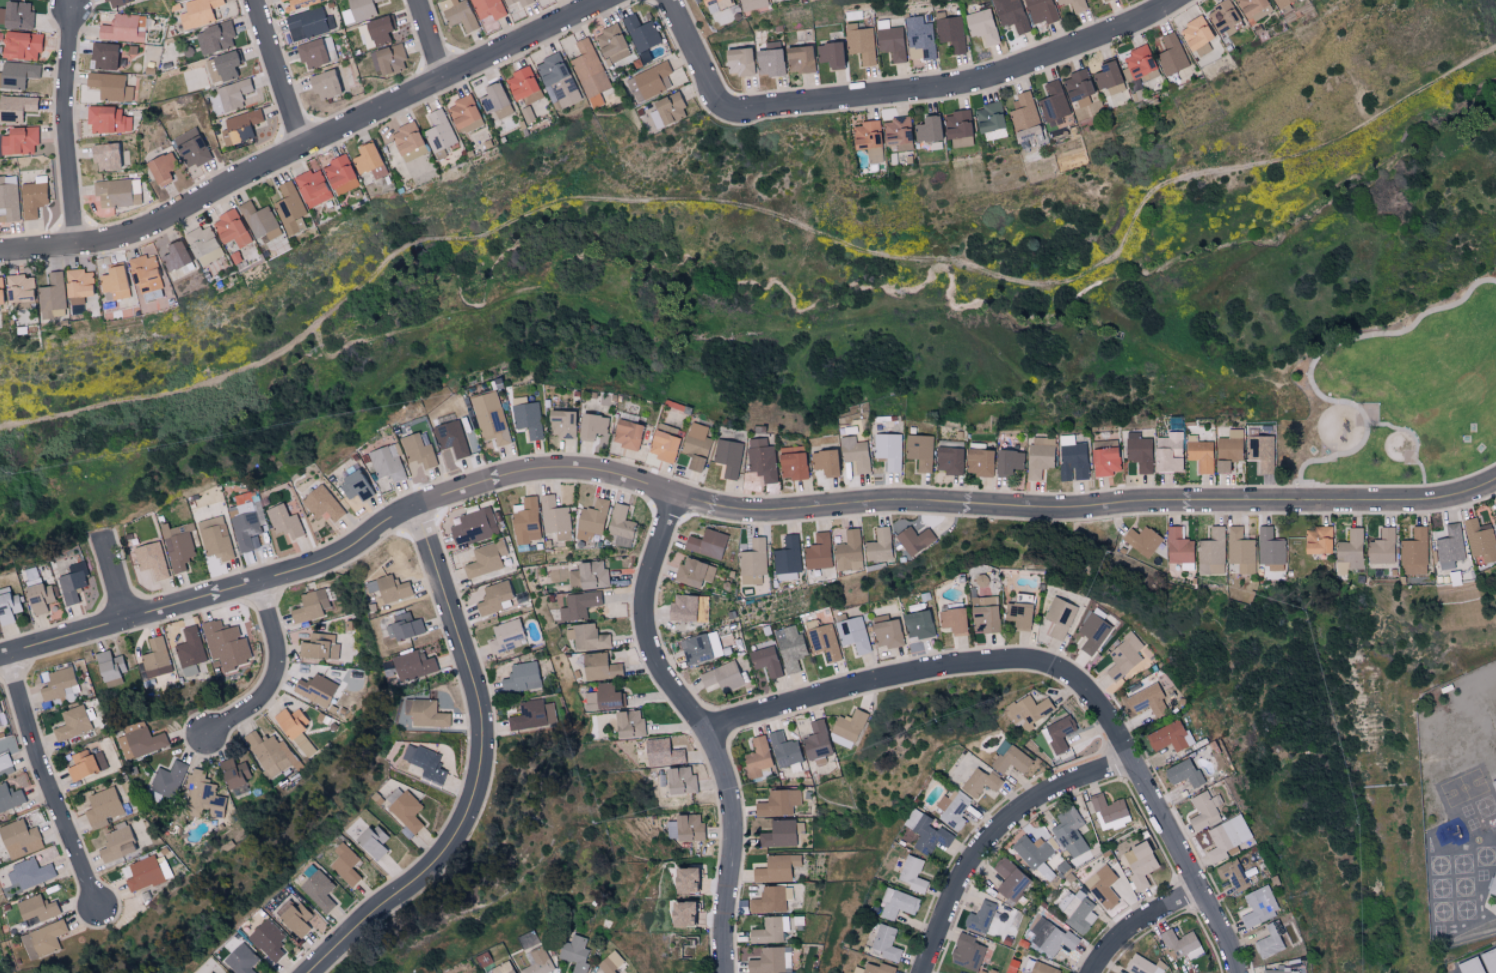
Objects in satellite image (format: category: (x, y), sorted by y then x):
building: (175, 0)
building: (281, 0)
building: (1104, 0)
building: (115, 2)
building: (1281, 2)
building: (301, 3)
building: (524, 4)
building: (716, 4)
building: (1073, 4)
building: (754, 5)
building: (488, 9)
building: (1253, 9)
building: (359, 11)
building: (1041, 11)
building: (198, 13)
building: (16, 14)
building: (459, 14)
building: (1011, 14)
building: (1222, 15)
building: (309, 24)
building: (982, 25)
building: (123, 28)
building: (1233, 29)
building: (380, 30)
building: (641, 33)
building: (951, 33)
building: (1195, 33)
building: (920, 36)
building: (215, 38)
road: (428, 38)
building: (890, 40)
building: (860, 42)
building: (611, 44)
building: (21, 45)
building: (316, 52)
building: (830, 54)
building: (1171, 54)
building: (104, 55)
building: (798, 58)
building: (389, 59)
building: (769, 59)
building: (738, 61)
building: (1140, 63)
building: (222, 66)
building: (589, 72)
building: (17, 74)
road: (276, 74)
road: (986, 77)
building: (1108, 77)
road: (714, 79)
building: (557, 80)
building: (649, 81)
building: (521, 83)
building: (324, 84)
building: (1077, 85)
building: (110, 86)
building: (230, 96)
building: (495, 100)
building: (1053, 101)
building: (16, 107)
building: (667, 110)
building: (463, 111)
building: (1023, 111)
building: (108, 119)
building: (990, 121)
building: (956, 124)
building: (240, 127)
road: (69, 129)
building: (927, 129)
building: (439, 131)
building: (1028, 132)
building: (897, 133)
building: (406, 138)
building: (868, 139)
building: (19, 140)
building: (961, 141)
road: (311, 142)
building: (191, 148)
building: (105, 155)
building: (368, 160)
building: (161, 168)
building: (340, 175)
building: (312, 188)
building: (32, 199)
road: (763, 212)
building: (260, 221)
building: (230, 228)
building: (201, 240)
building: (174, 255)
building: (144, 273)
building: (113, 282)
building: (77, 283)
building: (18, 288)
building: (51, 296)
building: (0, 306)
road: (1312, 363)
park: (1398, 395)
building: (490, 417)
building: (527, 419)
building: (561, 423)
building: (591, 426)
building: (626, 434)
building: (451, 438)
road: (1416, 443)
building: (663, 446)
building: (696, 446)
building: (1229, 446)
building: (888, 450)
building: (920, 451)
building: (1138, 451)
building: (1167, 452)
building: (855, 453)
building: (1199, 453)
building: (1258, 454)
building: (417, 456)
building: (1039, 456)
building: (728, 457)
building: (948, 457)
building: (761, 459)
building: (1071, 459)
building: (1007, 461)
building: (1104, 461)
building: (791, 462)
building: (825, 462)
building: (978, 462)
building: (387, 463)
building: (1220, 466)
building: (354, 485)
building: (321, 503)
road: (729, 512)
building: (555, 518)
building: (246, 519)
building: (592, 520)
building: (525, 521)
building: (284, 522)
building: (473, 526)
building: (620, 526)
building: (215, 538)
building: (914, 539)
building: (1318, 539)
building: (1141, 540)
building: (1480, 541)
building: (706, 543)
building: (878, 545)
building: (1177, 546)
building: (179, 547)
building: (1382, 547)
building: (1449, 547)
building: (1240, 550)
building: (1270, 550)
building: (1350, 550)
building: (849, 551)
building: (818, 552)
building: (1211, 552)
building: (1414, 552)
building: (151, 559)
building: (485, 559)
building: (787, 559)
building: (753, 562)
building: (694, 572)
building: (589, 575)
road: (117, 578)
building: (71, 586)
building: (389, 588)
building: (39, 598)
building: (494, 598)
building: (574, 605)
building: (8, 606)
building: (310, 606)
building: (688, 608)
building: (1019, 612)
building: (985, 614)
building: (1059, 617)
building: (954, 620)
building: (918, 625)
building: (404, 627)
building: (886, 632)
building: (1092, 633)
building: (853, 634)
building: (506, 635)
building: (587, 637)
building: (824, 641)
building: (225, 645)
building: (319, 647)
building: (701, 647)
building: (790, 648)
building: (190, 651)
building: (1124, 656)
building: (156, 658)
building: (765, 661)
building: (109, 665)
building: (413, 665)
building: (600, 667)
road: (1051, 671)
road: (279, 676)
building: (521, 677)
building: (722, 677)
building: (57, 683)
building: (315, 689)
building: (603, 698)
building: (1147, 701)
building: (1029, 709)
building: (0, 711)
building: (425, 713)
building: (549, 714)
building: (528, 716)
building: (0, 724)
building: (72, 724)
building: (628, 724)
building: (848, 725)
road: (698, 728)
building: (294, 730)
building: (1058, 734)
building: (140, 741)
building: (816, 741)
building: (784, 750)
building: (269, 753)
building: (662, 753)
building: (757, 757)
building: (1009, 759)
building: (424, 763)
building: (86, 764)
building: (5, 766)
road: (482, 767)
building: (233, 773)
building: (1183, 773)
building: (168, 779)
building: (679, 781)
road: (48, 782)
building: (979, 782)
building: (1495, 787)
building: (203, 795)
building: (9, 797)
building: (778, 803)
building: (102, 808)
building: (952, 809)
building: (1204, 810)
building: (407, 811)
building: (1111, 811)
building: (926, 832)
building: (1069, 832)
building: (779, 834)
road: (992, 834)
building: (1227, 837)
building: (19, 839)
building: (373, 842)
building: (116, 844)
building: (1031, 850)
building: (346, 864)
building: (1139, 864)
building: (776, 868)
building: (29, 873)
building: (143, 874)
building: (911, 874)
building: (1231, 875)
building: (686, 880)
building: (1010, 881)
building: (1492, 883)
building: (1102, 886)
building: (319, 890)
building: (770, 899)
building: (897, 903)
building: (1259, 906)
building: (36, 908)
building: (1079, 912)
building: (681, 914)
building: (979, 917)
building: (294, 918)
road: (1138, 925)
building: (770, 930)
building: (1051, 937)
building: (42, 940)
building: (268, 940)
building: (1271, 940)
building: (885, 943)
building: (966, 952)
building: (574, 953)
building: (244, 961)
building: (770, 961)
building: (538, 962)
building: (610, 963)
building: (1482, 964)
building: (1143, 965)
building: (877, 968)
building: (1038, 968)
building: (501, 969)
building: (1280, 971)
building: (209, 972)

